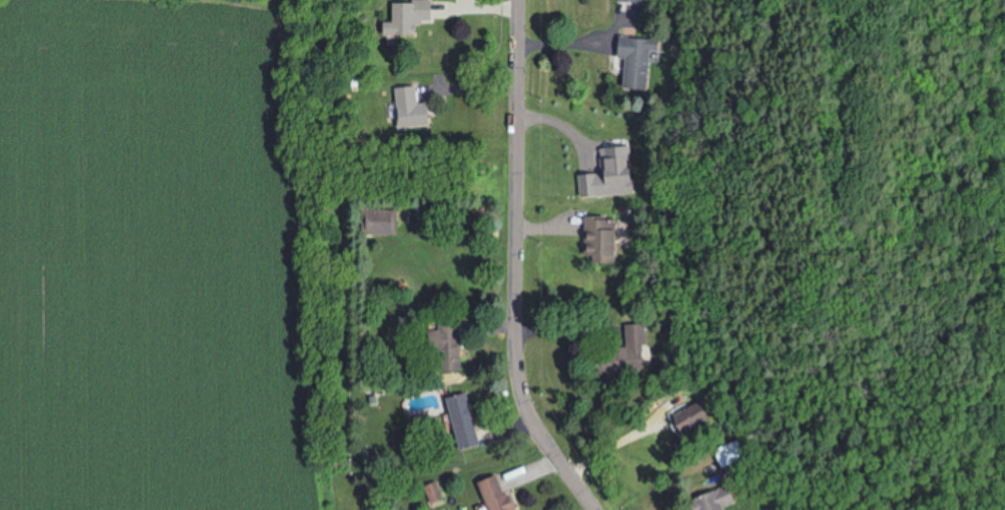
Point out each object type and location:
building: (409, 17)
building: (634, 63)
building: (414, 109)
crop: (175, 258)
road: (515, 266)
building: (450, 347)
building: (691, 418)
building: (466, 423)
road: (612, 441)
building: (730, 453)
building: (499, 495)
building: (718, 500)

